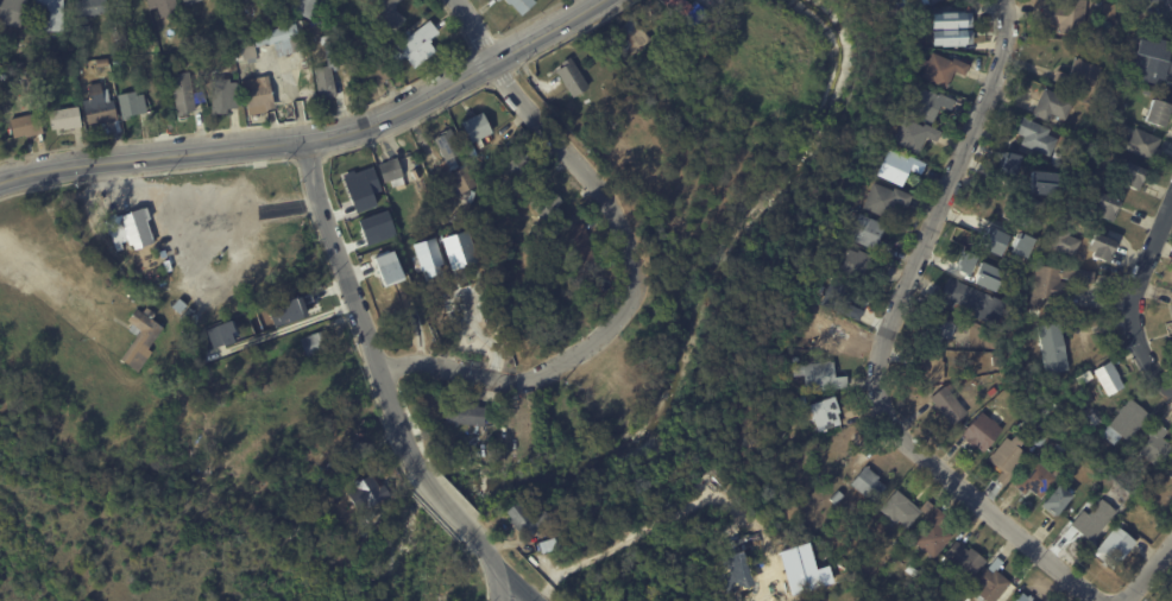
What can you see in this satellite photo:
building: (497, 0)
building: (931, 1)
building: (188, 2)
building: (367, 2)
building: (518, 5)
building: (163, 7)
building: (304, 7)
building: (676, 7)
building: (90, 8)
building: (11, 12)
building: (49, 14)
building: (1066, 15)
building: (385, 18)
building: (950, 29)
building: (1046, 33)
building: (626, 37)
building: (279, 40)
building: (1135, 42)
building: (417, 46)
building: (245, 52)
building: (99, 64)
building: (1161, 64)
building: (940, 68)
building: (1079, 74)
building: (326, 75)
building: (370, 75)
building: (572, 77)
road: (456, 80)
building: (179, 95)
building: (221, 97)
building: (256, 97)
building: (928, 102)
building: (1051, 105)
building: (130, 106)
building: (100, 108)
building: (1157, 112)
building: (64, 120)
building: (24, 127)
building: (475, 127)
building: (909, 133)
building: (1035, 135)
building: (1143, 143)
building: (447, 144)
road: (153, 154)
building: (1009, 163)
building: (517, 164)
building: (896, 166)
building: (440, 169)
building: (390, 172)
building: (414, 173)
building: (1133, 175)
building: (461, 179)
building: (1042, 183)
building: (357, 185)
building: (883, 198)
building: (1105, 205)
building: (446, 207)
building: (1022, 209)
road: (208, 210)
building: (478, 214)
building: (130, 229)
building: (867, 233)
building: (994, 240)
building: (1064, 242)
building: (1022, 245)
building: (1101, 247)
building: (578, 249)
building: (964, 262)
road: (634, 264)
building: (856, 265)
building: (385, 266)
building: (988, 276)
building: (1056, 283)
road: (1140, 296)
building: (839, 299)
building: (972, 300)
building: (1171, 306)
building: (286, 311)
building: (1033, 314)
road: (282, 324)
building: (935, 330)
road: (481, 331)
building: (828, 333)
building: (221, 334)
building: (139, 339)
road: (881, 342)
building: (315, 343)
building: (1052, 348)
building: (1015, 360)
building: (928, 362)
road: (380, 372)
building: (818, 377)
building: (1109, 378)
building: (1026, 385)
building: (949, 404)
building: (824, 413)
building: (465, 415)
building: (1035, 420)
building: (1126, 422)
building: (515, 426)
building: (981, 431)
building: (1038, 439)
building: (1155, 444)
building: (354, 453)
building: (1171, 456)
building: (1008, 458)
building: (1171, 474)
building: (1035, 480)
building: (867, 483)
building: (365, 492)
building: (836, 498)
building: (1056, 500)
building: (902, 508)
building: (525, 518)
building: (1090, 521)
building: (932, 534)
building: (896, 544)
park: (156, 545)
building: (1114, 548)
building: (895, 558)
building: (964, 558)
building: (912, 570)
road: (1149, 572)
building: (991, 583)
road: (498, 590)
road: (516, 590)
building: (1023, 597)

